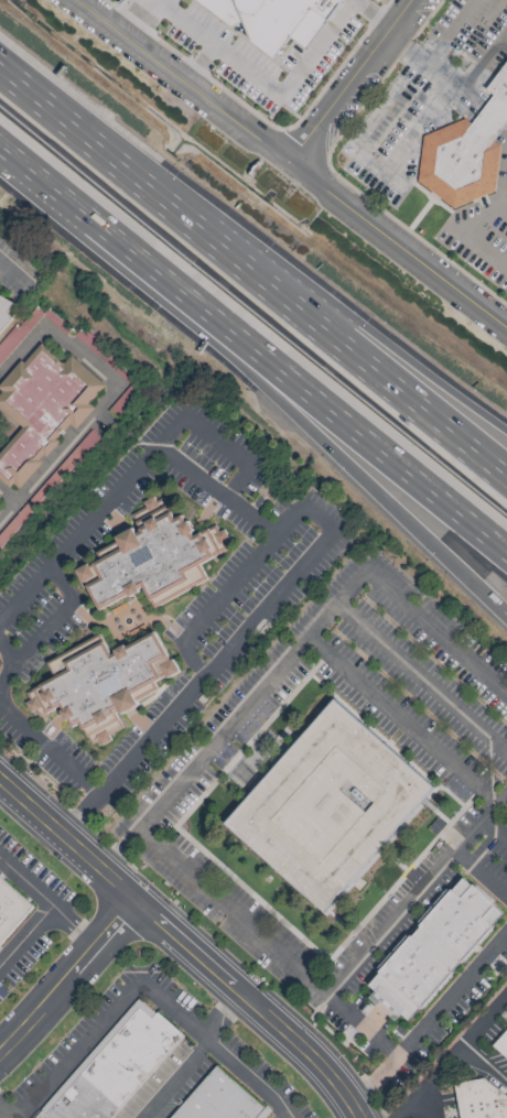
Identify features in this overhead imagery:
road: (117, 11)
road: (373, 14)
building: (276, 19)
road: (452, 33)
road: (501, 45)
road: (407, 52)
road: (482, 59)
road: (199, 63)
road: (247, 73)
road: (353, 79)
road: (455, 87)
road: (25, 91)
road: (385, 106)
road: (493, 119)
road: (411, 127)
road: (505, 129)
road: (8, 149)
building: (466, 152)
road: (293, 161)
road: (371, 165)
road: (503, 204)
road: (487, 213)
road: (495, 226)
road: (486, 256)
road: (282, 264)
road: (15, 279)
road: (279, 294)
building: (3, 307)
road: (261, 351)
road: (261, 386)
building: (43, 410)
road: (89, 421)
road: (233, 451)
road: (217, 489)
road: (8, 495)
building: (0, 496)
building: (3, 507)
road: (91, 517)
building: (152, 558)
road: (225, 591)
road: (57, 618)
road: (294, 652)
road: (11, 661)
road: (421, 680)
building: (103, 684)
road: (194, 686)
road: (402, 723)
road: (50, 749)
building: (328, 806)
road: (68, 839)
road: (25, 881)
building: (11, 909)
road: (74, 926)
road: (25, 934)
building: (434, 951)
road: (68, 978)
road: (333, 985)
road: (260, 1000)
road: (242, 1008)
road: (214, 1013)
road: (432, 1016)
road: (486, 1020)
road: (363, 1022)
building: (501, 1043)
road: (217, 1046)
road: (76, 1051)
road: (486, 1063)
building: (115, 1066)
road: (172, 1077)
road: (429, 1081)
building: (219, 1099)
building: (481, 1100)
road: (421, 1105)
road: (4, 1112)

